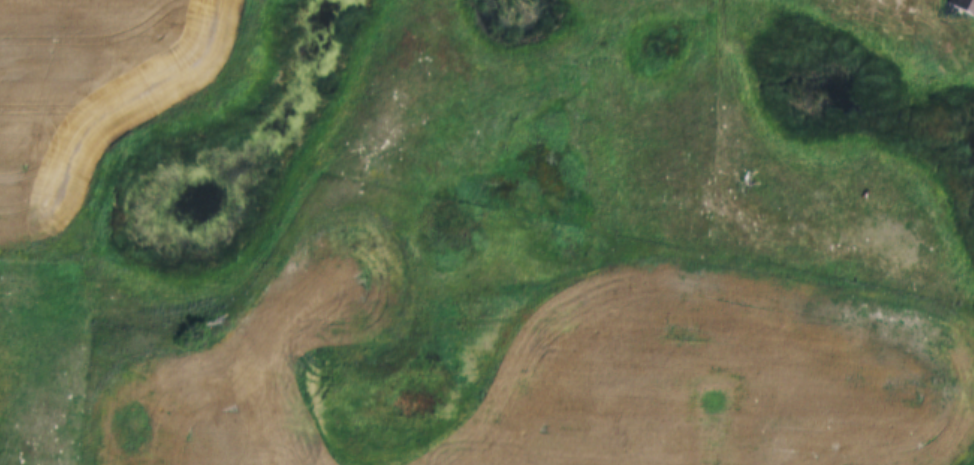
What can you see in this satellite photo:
building: (969, 2)

